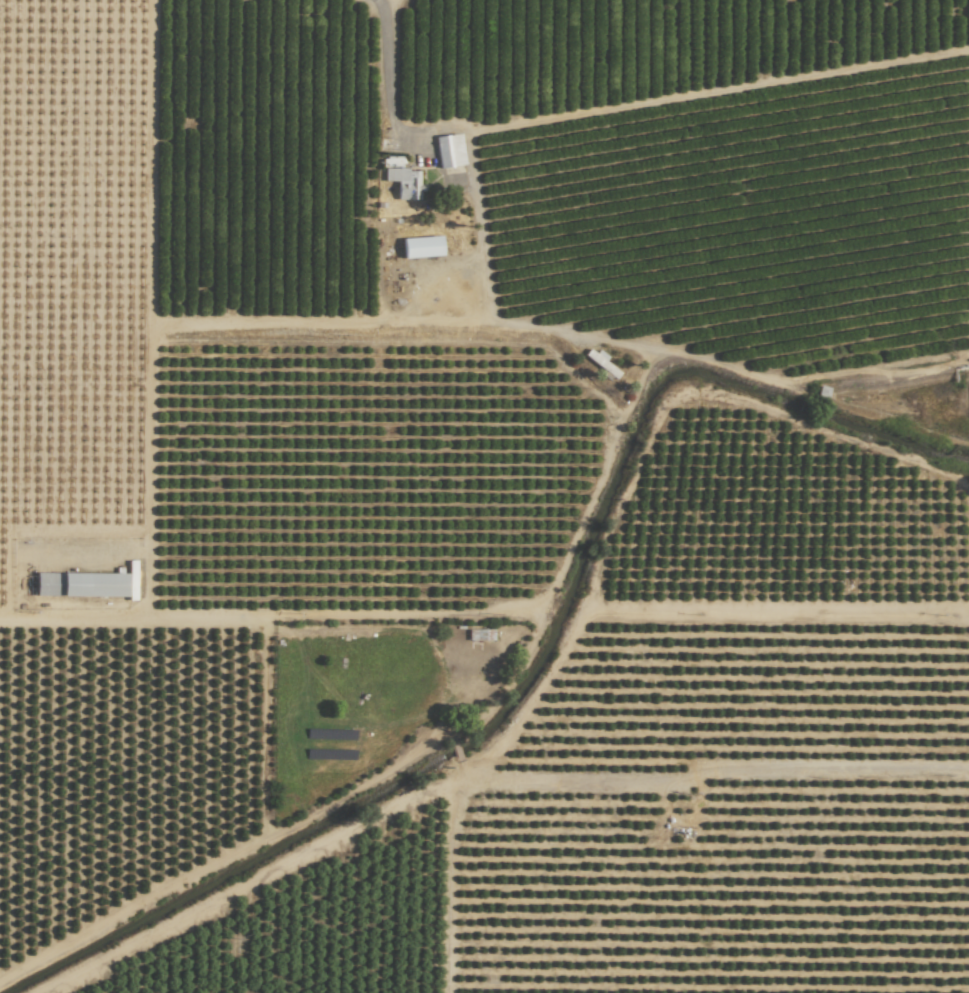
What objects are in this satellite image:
road: (389, 73)
building: (449, 151)
building: (396, 174)
building: (422, 247)
road: (364, 324)
building: (80, 584)
road: (70, 614)
building: (480, 634)
road: (466, 719)

